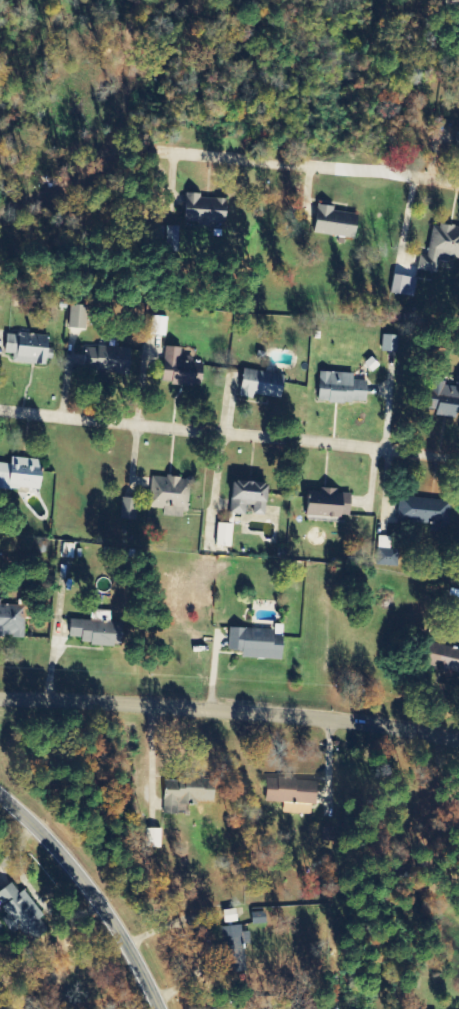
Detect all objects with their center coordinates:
building: (457, 139)
road: (439, 178)
building: (207, 210)
building: (336, 222)
building: (441, 250)
building: (404, 285)
building: (78, 316)
building: (159, 325)
building: (390, 343)
building: (29, 349)
building: (109, 359)
building: (180, 369)
building: (263, 384)
building: (342, 388)
building: (450, 401)
road: (229, 431)
building: (22, 474)
building: (170, 495)
building: (250, 498)
building: (331, 504)
building: (424, 512)
building: (387, 557)
building: (12, 621)
building: (98, 632)
building: (257, 642)
building: (447, 660)
road: (230, 708)
building: (293, 791)
building: (187, 793)
building: (298, 808)
road: (7, 809)
building: (154, 838)
road: (95, 889)
building: (22, 914)
building: (259, 918)

